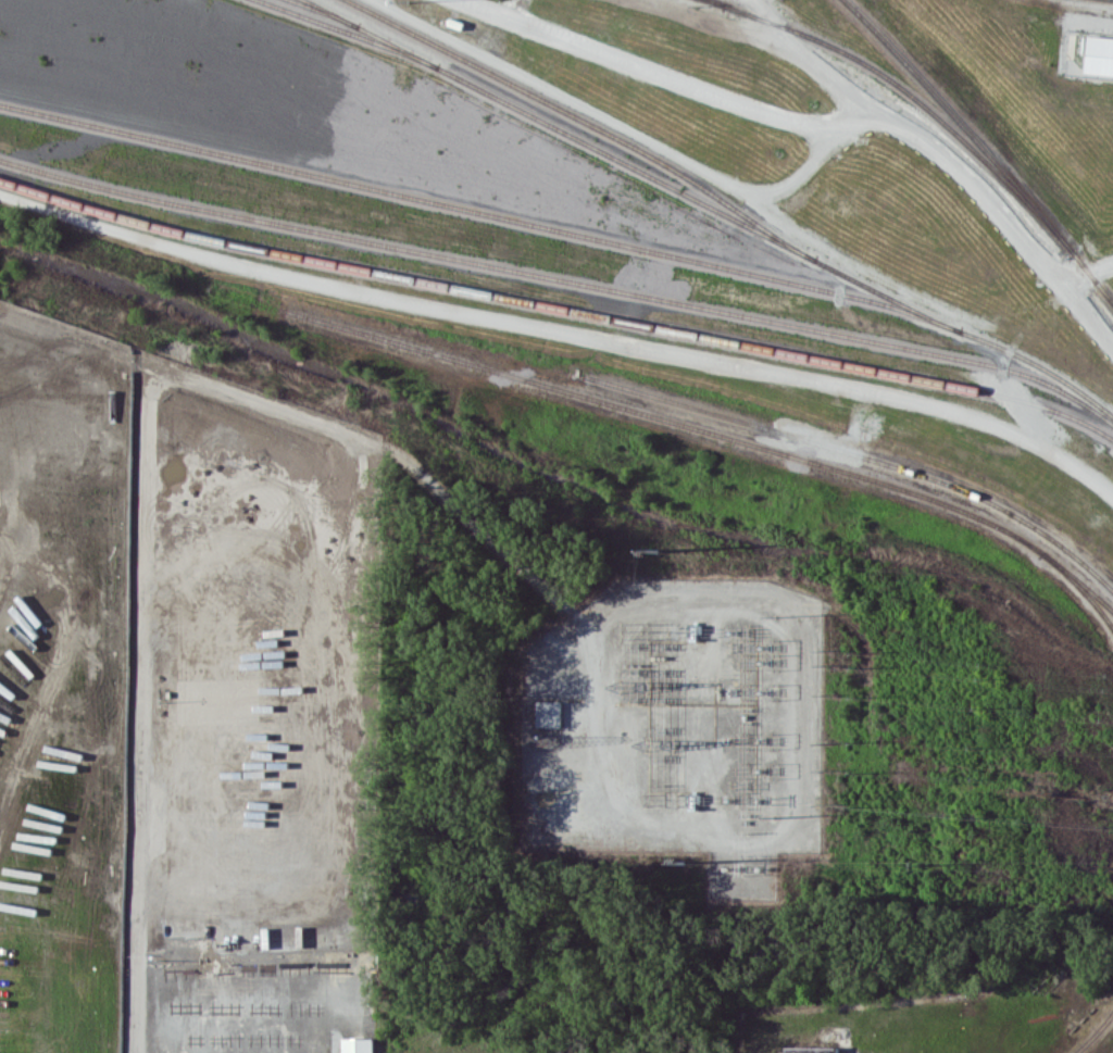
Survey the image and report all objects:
railway: (717, 2)
railway: (325, 12)
railway: (350, 32)
road: (806, 54)
building: (1099, 55)
railway: (911, 95)
road: (604, 116)
railway: (588, 122)
road: (825, 134)
railway: (983, 147)
railway: (712, 204)
railway: (482, 210)
road: (863, 265)
road: (1089, 272)
railway: (561, 278)
railway: (558, 306)
road: (562, 335)
railway: (677, 422)
railway: (859, 454)
road: (151, 467)
railway: (1080, 587)
building: (546, 712)
power substation: (681, 725)
railway: (1095, 1032)
building: (359, 1045)
building: (812, 1050)
building: (516, 1052)

